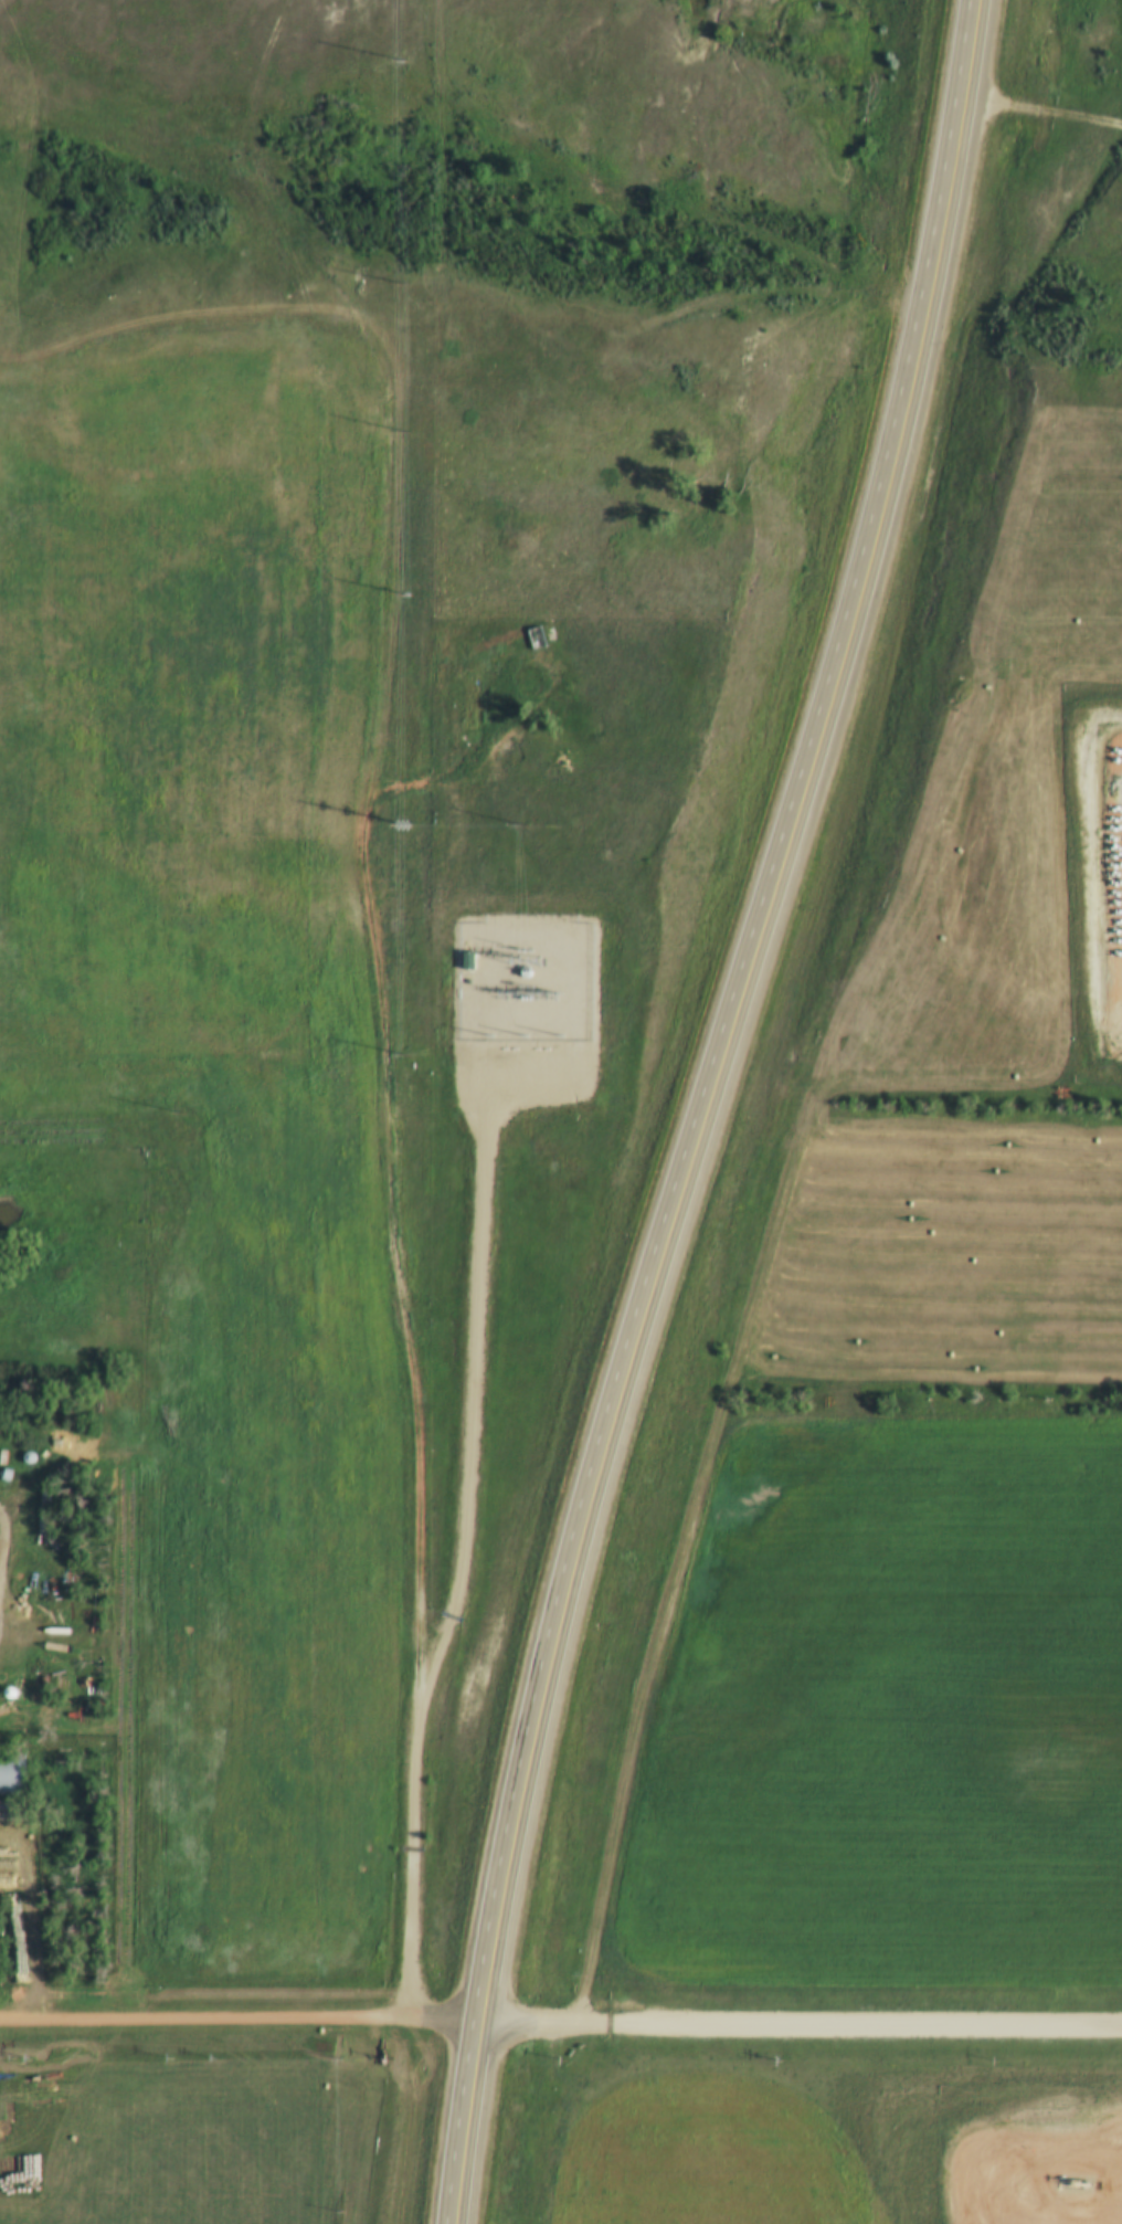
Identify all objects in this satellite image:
building: (467, 956)
power substation: (522, 977)
road: (708, 1109)
road: (402, 1305)
road: (466, 1396)
road: (3, 1550)
building: (10, 1693)
building: (10, 1773)
road: (240, 2023)
road: (801, 2026)

